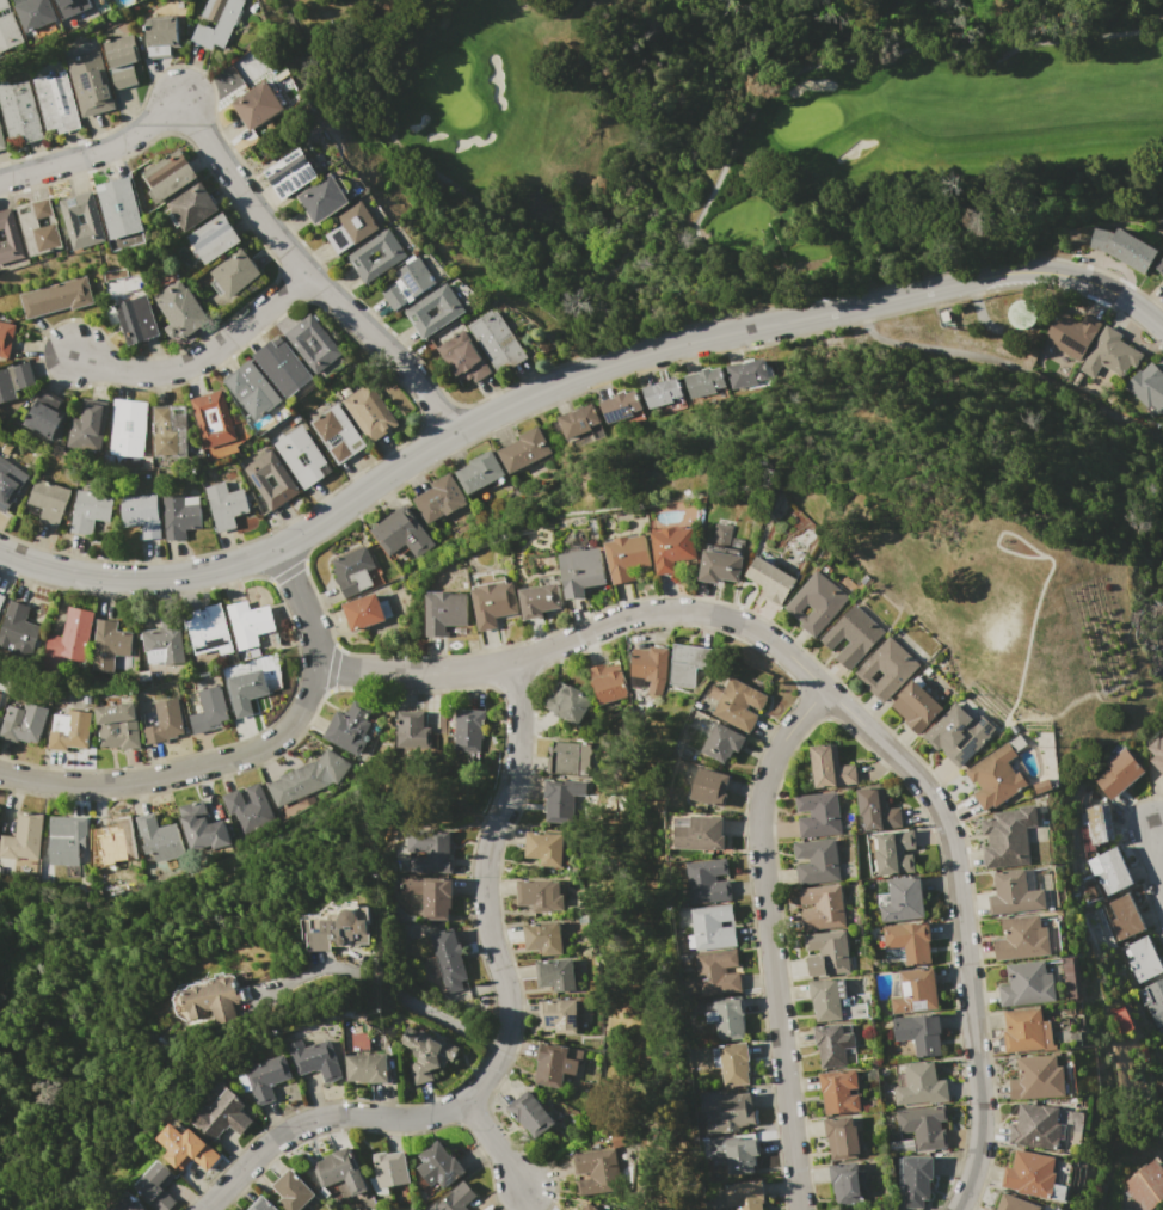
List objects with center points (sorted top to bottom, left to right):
building: (74, 7)
building: (35, 13)
building: (216, 22)
building: (8, 29)
building: (160, 35)
building: (123, 61)
building: (91, 84)
building: (55, 103)
building: (257, 105)
building: (18, 112)
park: (753, 136)
building: (1, 143)
building: (290, 174)
building: (168, 176)
road: (242, 195)
building: (322, 198)
building: (191, 205)
building: (119, 207)
building: (72, 219)
building: (39, 226)
building: (351, 227)
building: (10, 238)
building: (211, 238)
building: (1130, 250)
building: (395, 256)
building: (1159, 266)
building: (234, 274)
building: (1162, 282)
building: (408, 283)
building: (56, 297)
building: (179, 309)
building: (451, 311)
building: (1021, 313)
building: (136, 320)
building: (1071, 333)
building: (6, 338)
building: (496, 340)
building: (312, 343)
building: (1110, 354)
building: (462, 357)
road: (201, 358)
building: (282, 366)
building: (746, 373)
road: (568, 379)
building: (13, 380)
building: (703, 382)
building: (1147, 387)
building: (252, 391)
building: (664, 395)
building: (622, 407)
building: (368, 412)
building: (45, 414)
building: (211, 418)
building: (580, 425)
building: (87, 426)
building: (128, 428)
building: (337, 434)
building: (168, 436)
building: (523, 449)
building: (301, 456)
building: (479, 471)
building: (284, 480)
building: (10, 483)
building: (439, 498)
building: (48, 500)
building: (224, 505)
building: (90, 510)
building: (140, 512)
building: (179, 515)
park: (1155, 529)
building: (402, 534)
building: (672, 547)
building: (626, 557)
building: (720, 566)
building: (353, 570)
building: (583, 571)
building: (770, 579)
building: (540, 600)
building: (1, 601)
building: (493, 603)
building: (816, 603)
road: (302, 606)
building: (365, 610)
building: (444, 612)
building: (248, 622)
building: (17, 626)
building: (207, 632)
road: (579, 632)
building: (853, 634)
building: (70, 635)
building: (107, 641)
building: (162, 643)
building: (687, 664)
building: (651, 665)
building: (887, 669)
building: (608, 682)
building: (246, 690)
building: (0, 696)
building: (568, 702)
building: (739, 705)
building: (916, 705)
building: (209, 710)
building: (162, 721)
building: (21, 723)
building: (116, 725)
building: (349, 726)
building: (411, 727)
building: (69, 730)
building: (469, 730)
building: (958, 733)
building: (721, 742)
building: (1157, 753)
building: (570, 757)
building: (830, 767)
road: (180, 770)
building: (1119, 773)
building: (995, 776)
building: (307, 778)
building: (709, 787)
building: (560, 798)
building: (247, 807)
building: (876, 810)
building: (818, 813)
building: (1095, 825)
building: (202, 828)
building: (700, 833)
building: (1008, 836)
building: (158, 839)
building: (21, 840)
building: (67, 840)
building: (116, 844)
building: (543, 848)
building: (430, 850)
building: (894, 853)
building: (817, 861)
road: (1156, 862)
building: (1109, 871)
building: (706, 880)
building: (540, 895)
building: (1014, 895)
building: (431, 896)
building: (900, 899)
building: (822, 907)
building: (1125, 916)
road: (960, 925)
building: (337, 927)
building: (713, 927)
building: (542, 938)
road: (768, 938)
building: (1027, 938)
building: (907, 942)
building: (826, 953)
building: (448, 959)
building: (1140, 959)
building: (716, 973)
building: (555, 975)
building: (1027, 985)
road: (381, 987)
building: (912, 991)
building: (209, 1001)
building: (833, 1001)
building: (1152, 1001)
building: (558, 1015)
building: (726, 1016)
building: (1026, 1031)
building: (918, 1033)
building: (1161, 1033)
road: (505, 1039)
building: (835, 1045)
building: (425, 1051)
building: (315, 1059)
building: (554, 1063)
building: (734, 1064)
building: (365, 1068)
building: (265, 1077)
building: (1038, 1077)
building: (919, 1085)
building: (838, 1092)
building: (736, 1111)
building: (529, 1113)
building: (222, 1116)
building: (923, 1125)
building: (1036, 1126)
building: (620, 1137)
building: (842, 1137)
building: (184, 1147)
road: (494, 1148)
building: (742, 1155)
building: (438, 1166)
building: (389, 1168)
building: (337, 1169)
building: (595, 1172)
building: (1030, 1174)
building: (916, 1180)
building: (844, 1181)
building: (156, 1187)
building: (1143, 1187)
building: (291, 1191)
building: (746, 1196)
building: (455, 1198)
building: (125, 1203)
building: (1015, 1203)
building: (261, 1204)
building: (587, 1208)
building: (992, 1209)

